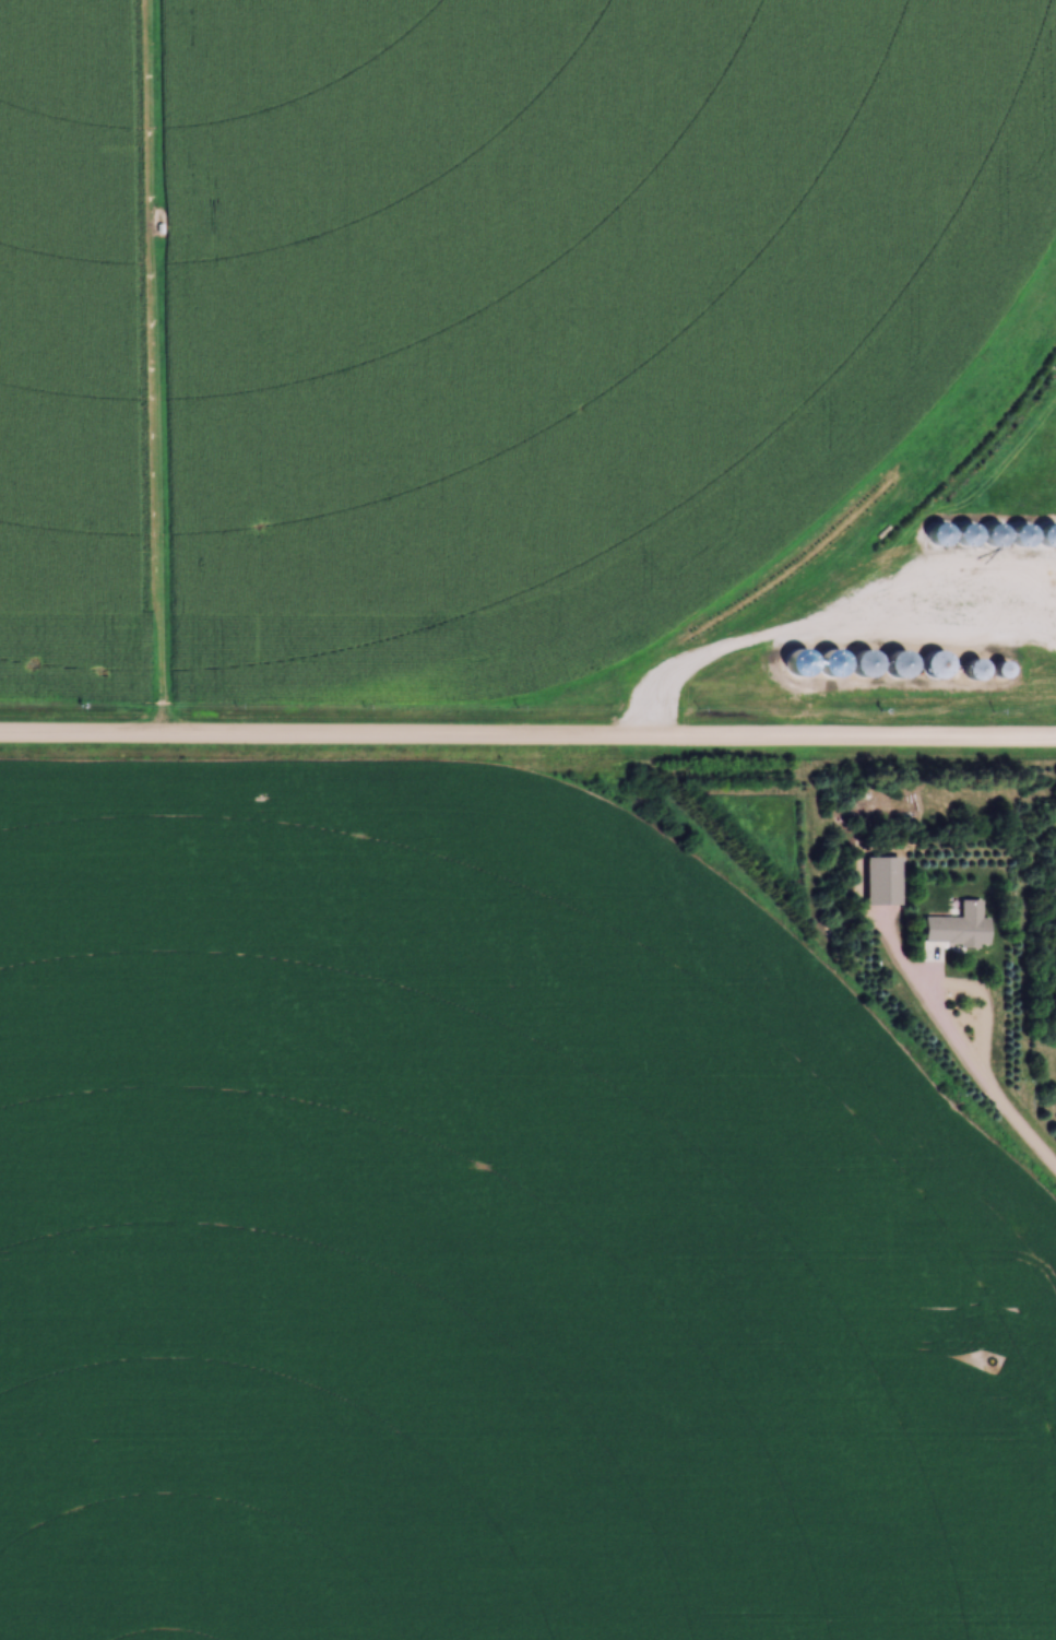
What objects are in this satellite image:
building: (854, 664)
building: (929, 665)
building: (888, 668)
building: (966, 671)
building: (994, 671)
road: (527, 734)
building: (877, 882)
building: (956, 928)

